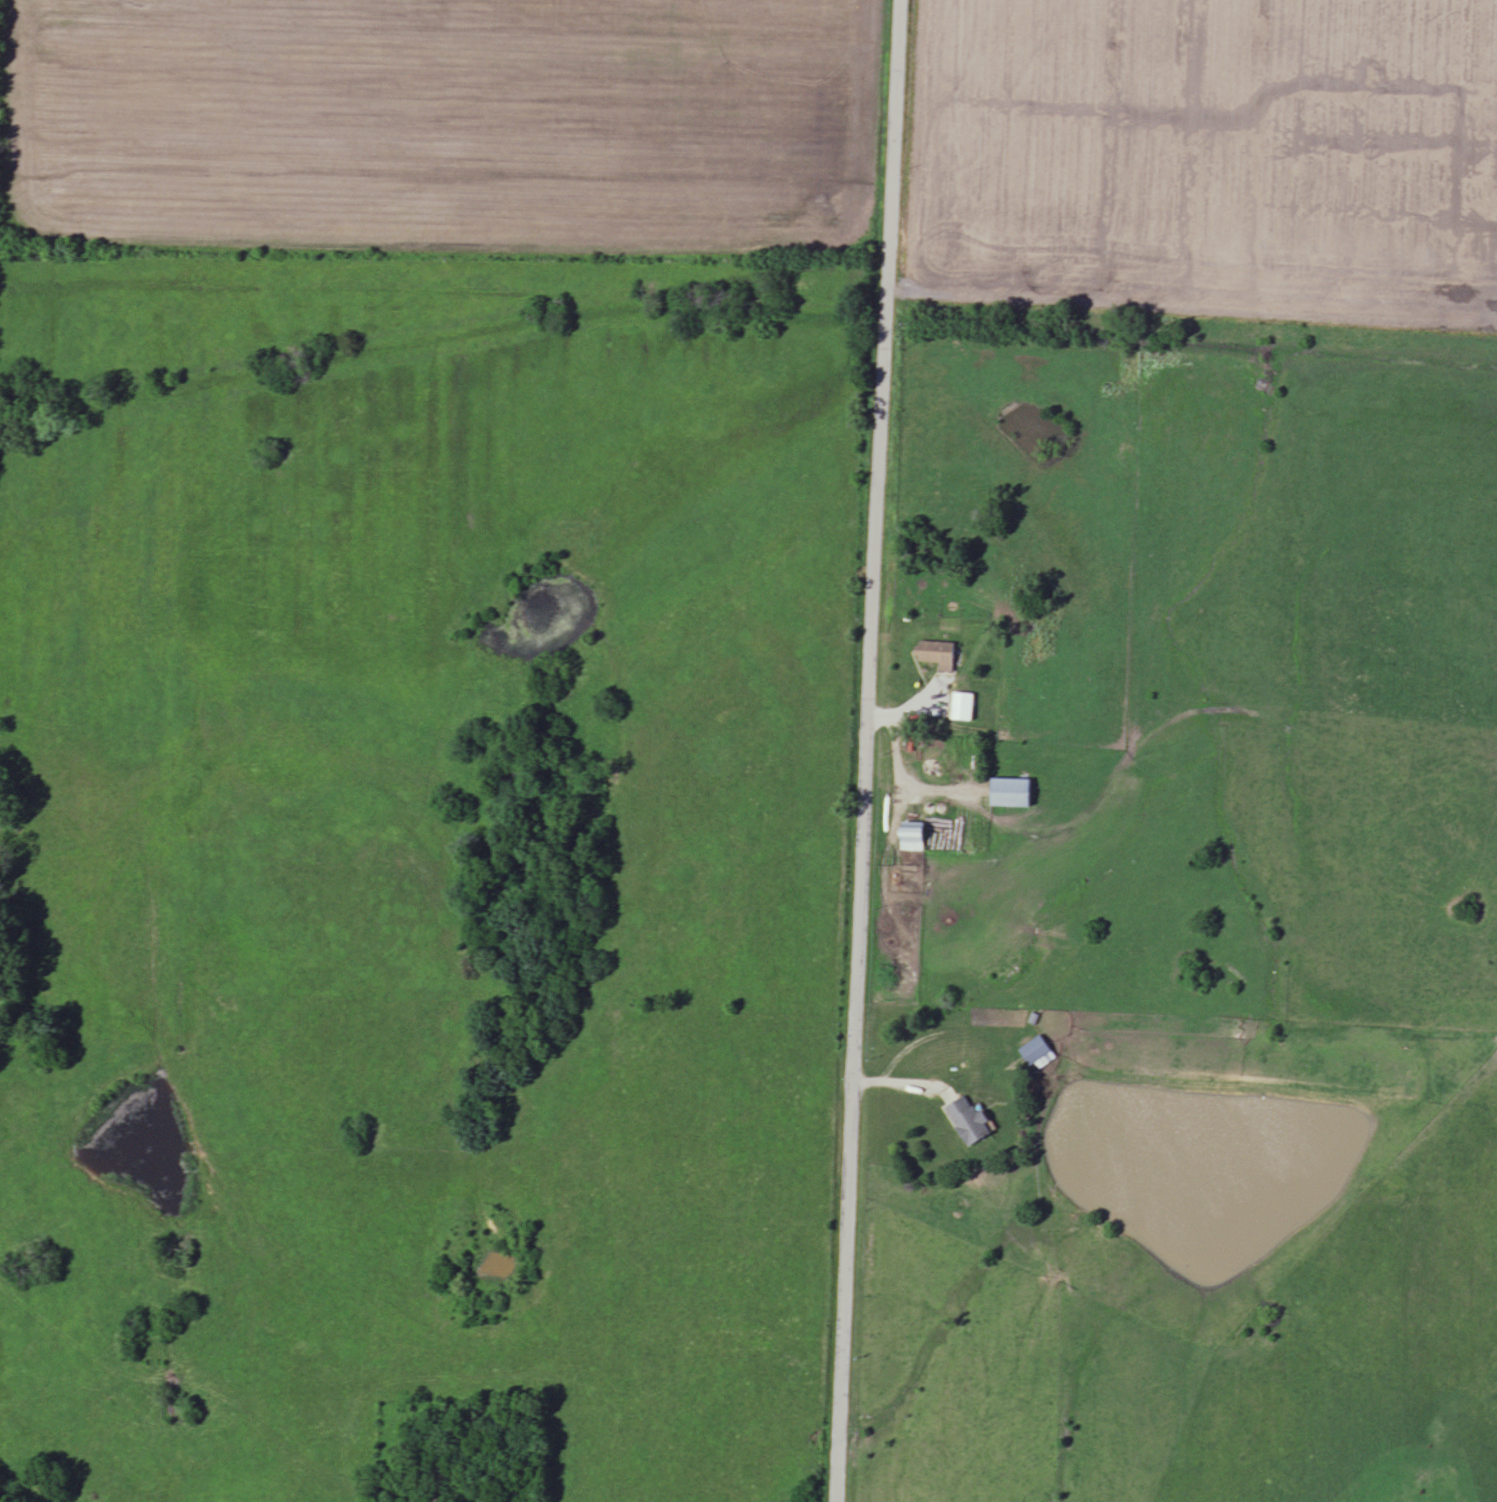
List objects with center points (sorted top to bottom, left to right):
crop: (445, 122)
crop: (1204, 156)
road: (1086, 306)
building: (941, 655)
building: (965, 707)
road: (865, 750)
road: (900, 769)
building: (1013, 793)
building: (915, 837)
building: (970, 1121)
building: (434, 1501)

